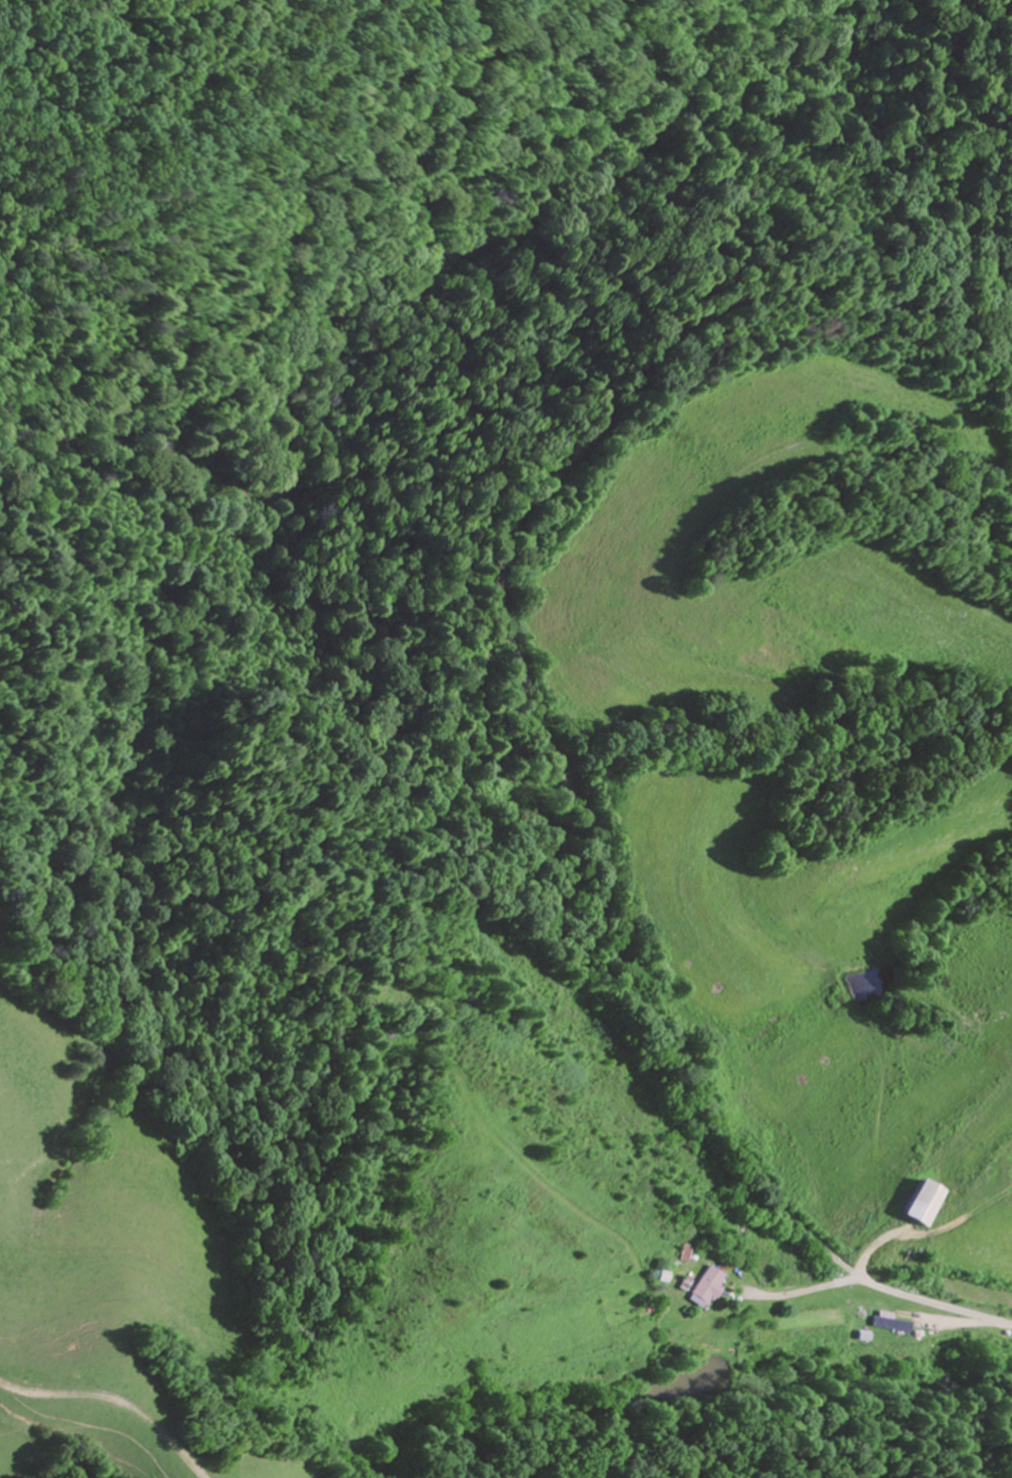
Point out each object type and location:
building: (925, 1202)
building: (678, 1253)
building: (704, 1286)
road: (880, 1288)
building: (897, 1323)

